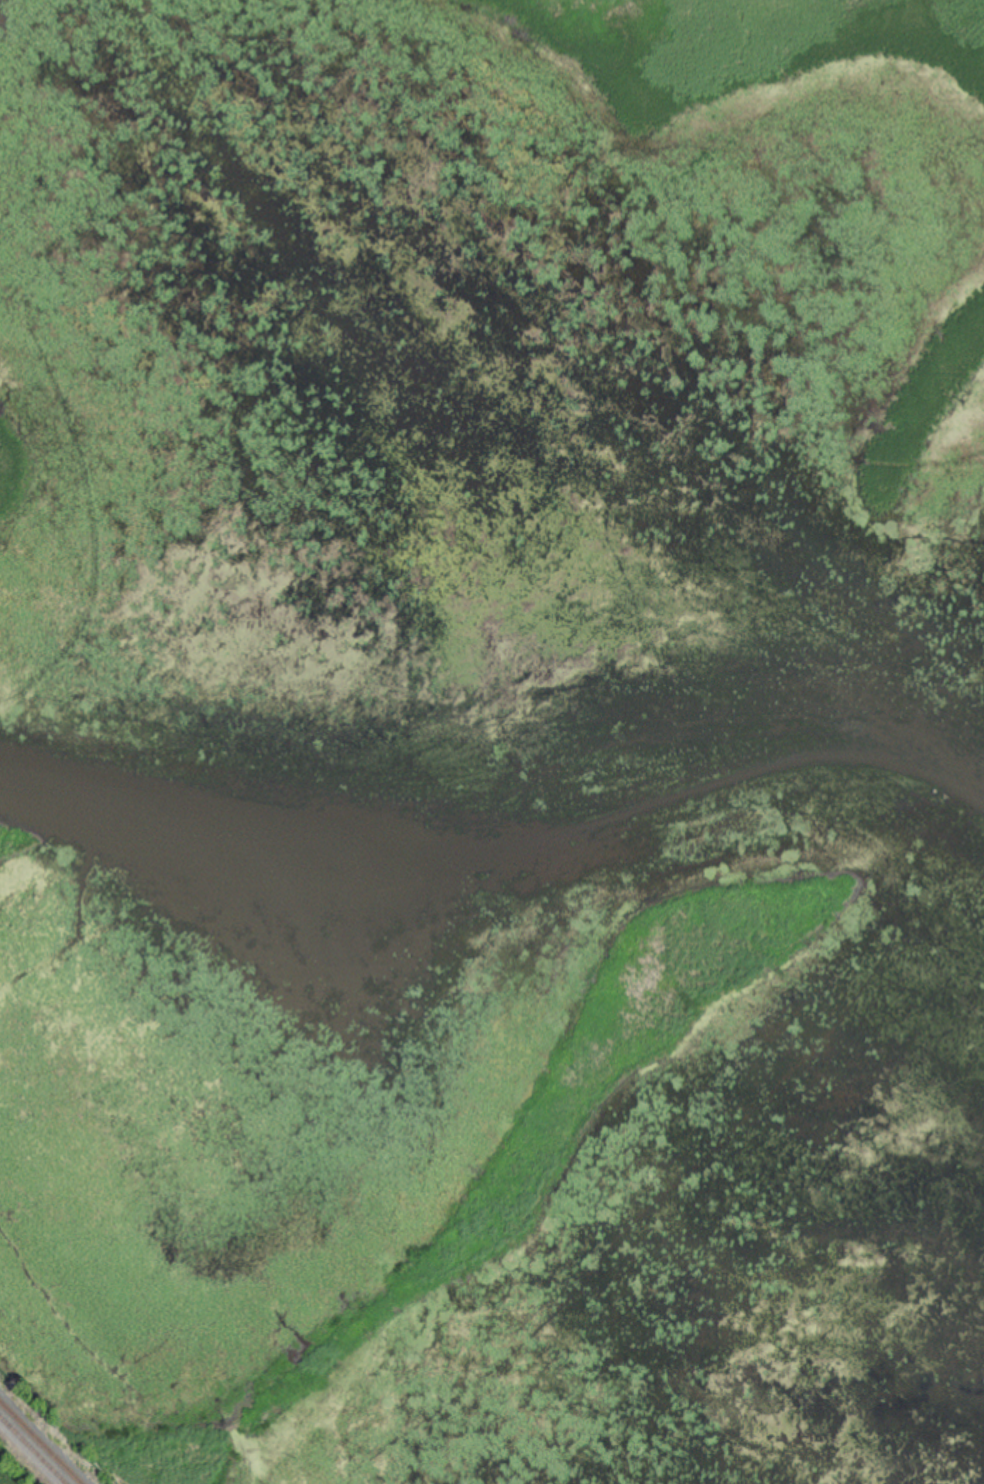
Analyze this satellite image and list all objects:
railway: (43, 1440)
railway: (35, 1448)

